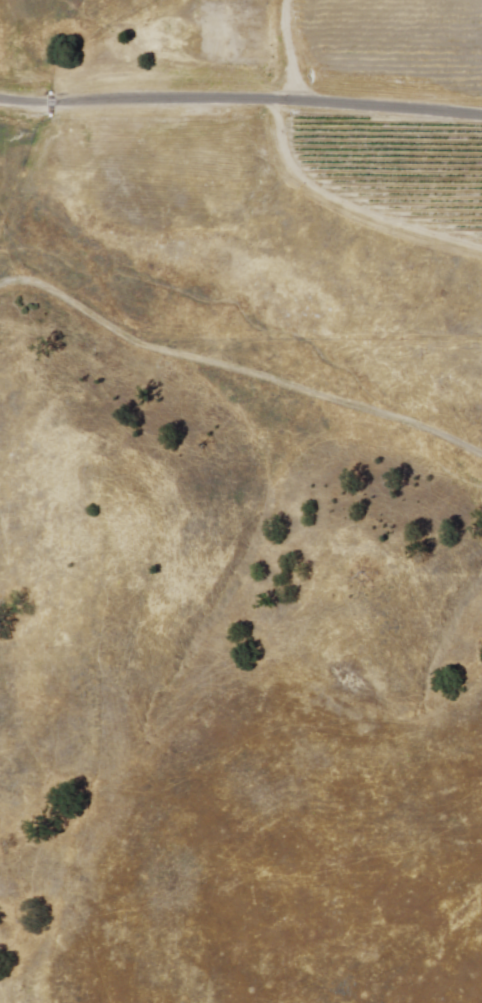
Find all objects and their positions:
road: (293, 50)
road: (241, 101)
road: (349, 205)
road: (238, 371)

